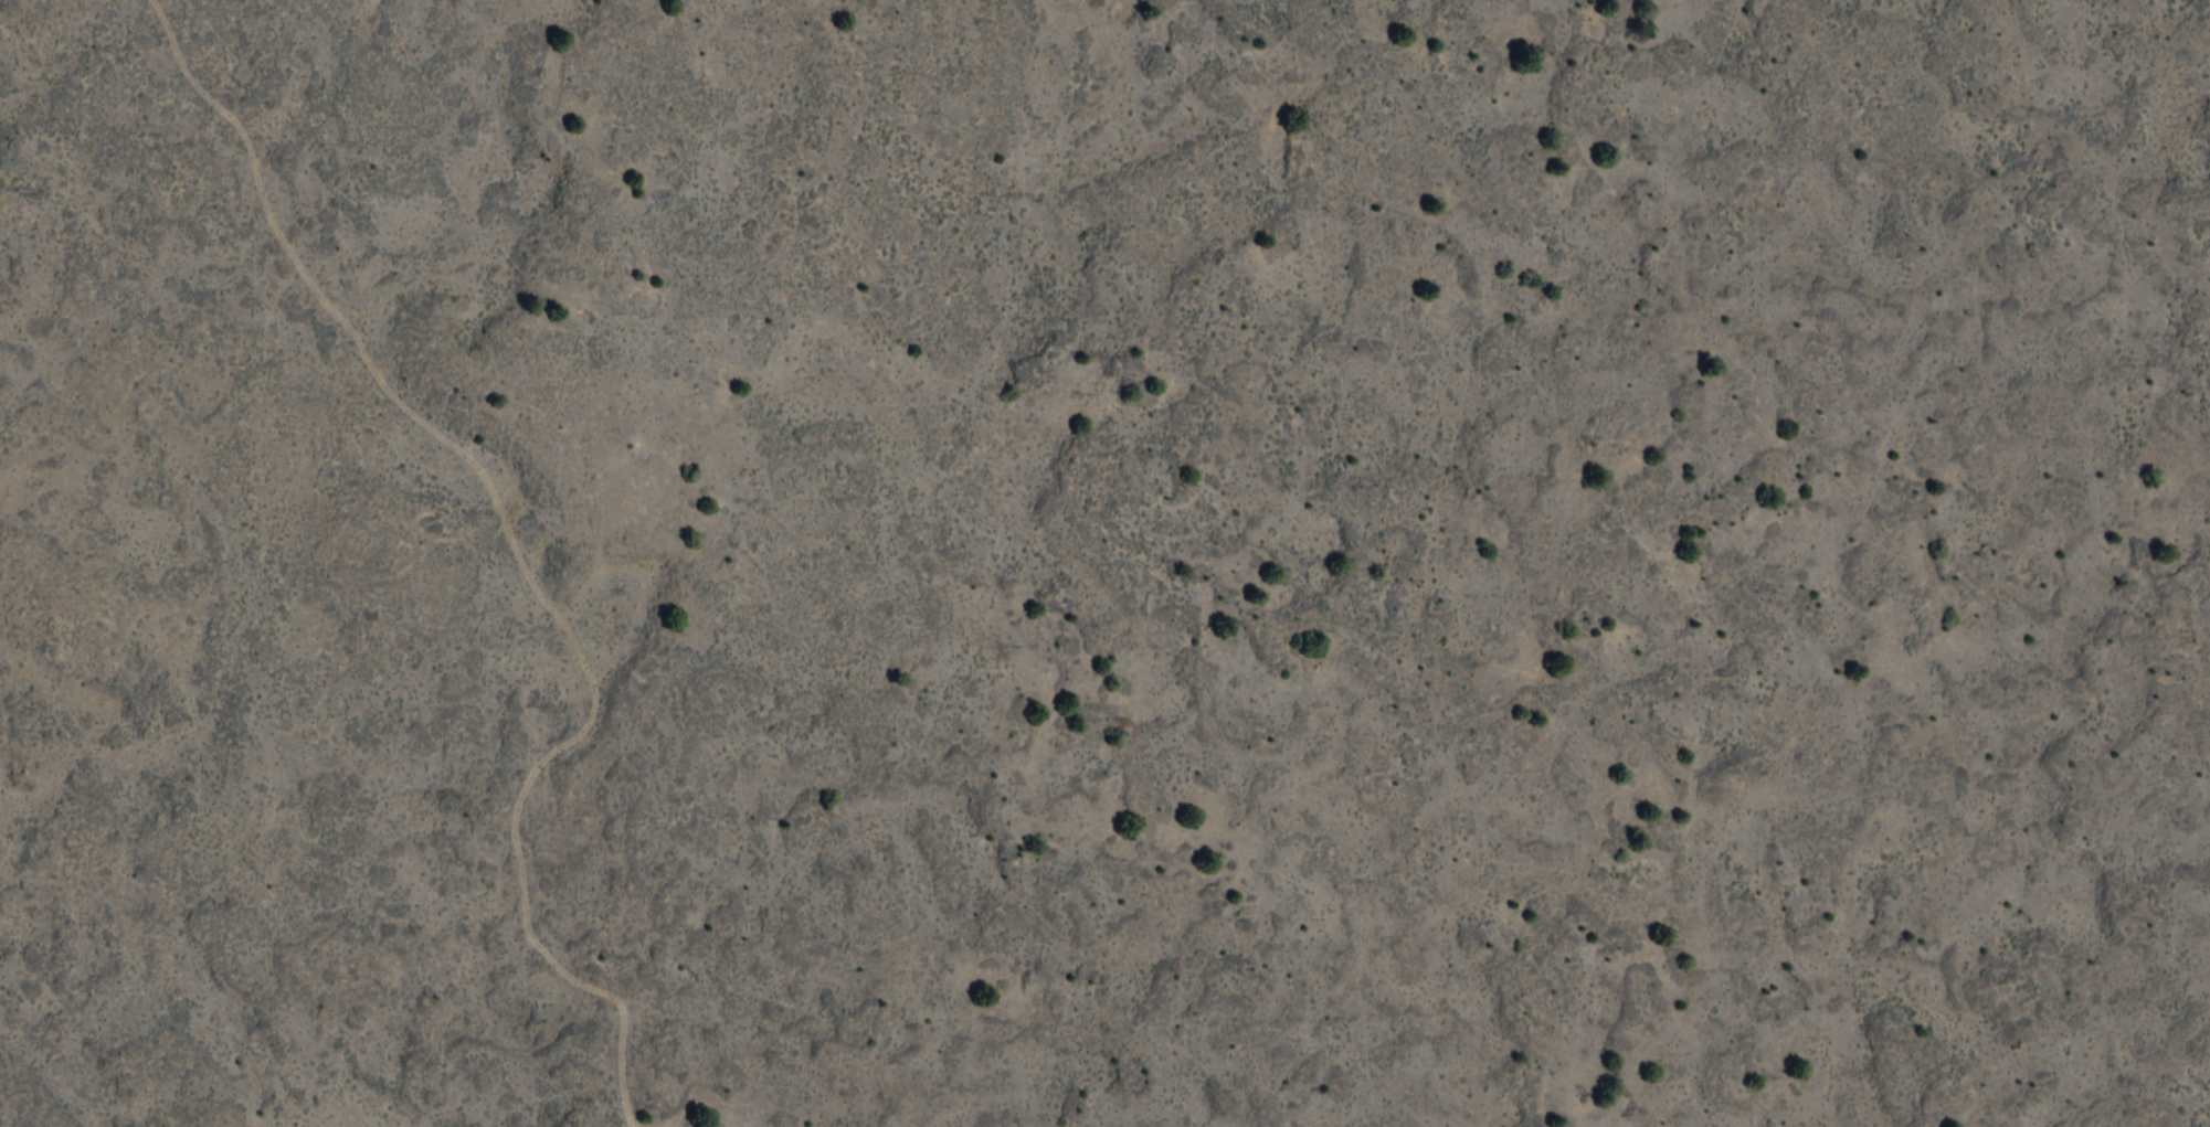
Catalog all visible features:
road: (522, 553)

